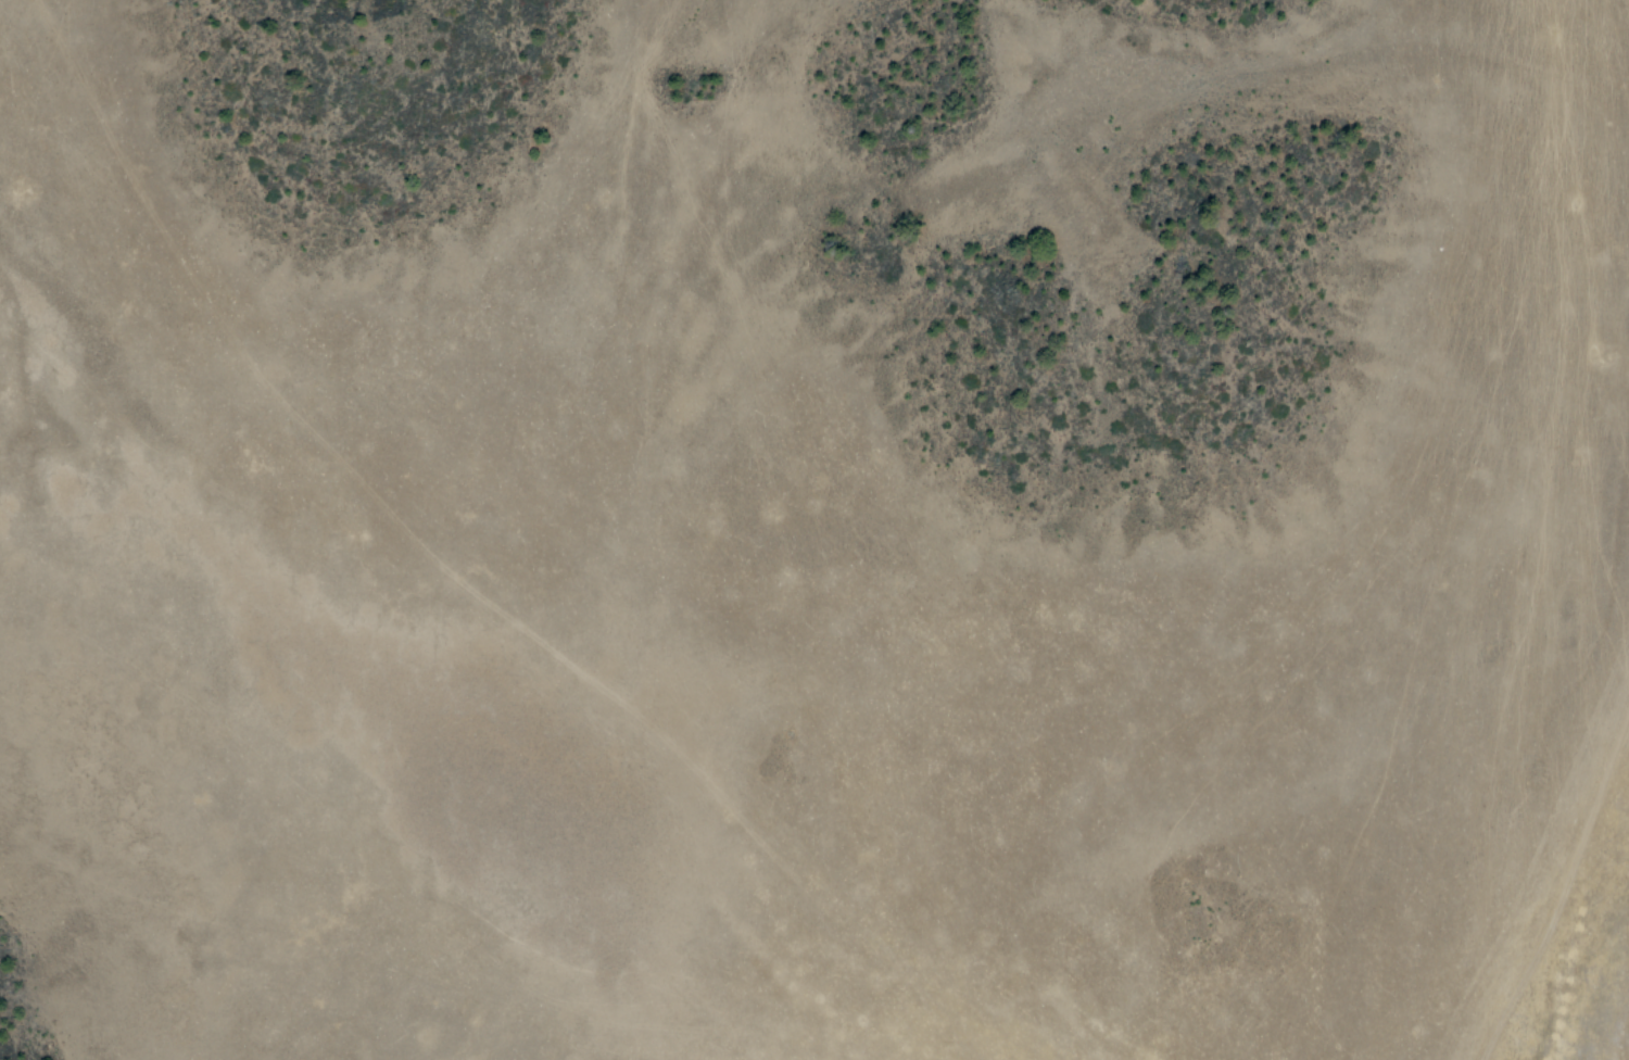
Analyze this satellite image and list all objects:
road: (1559, 884)

